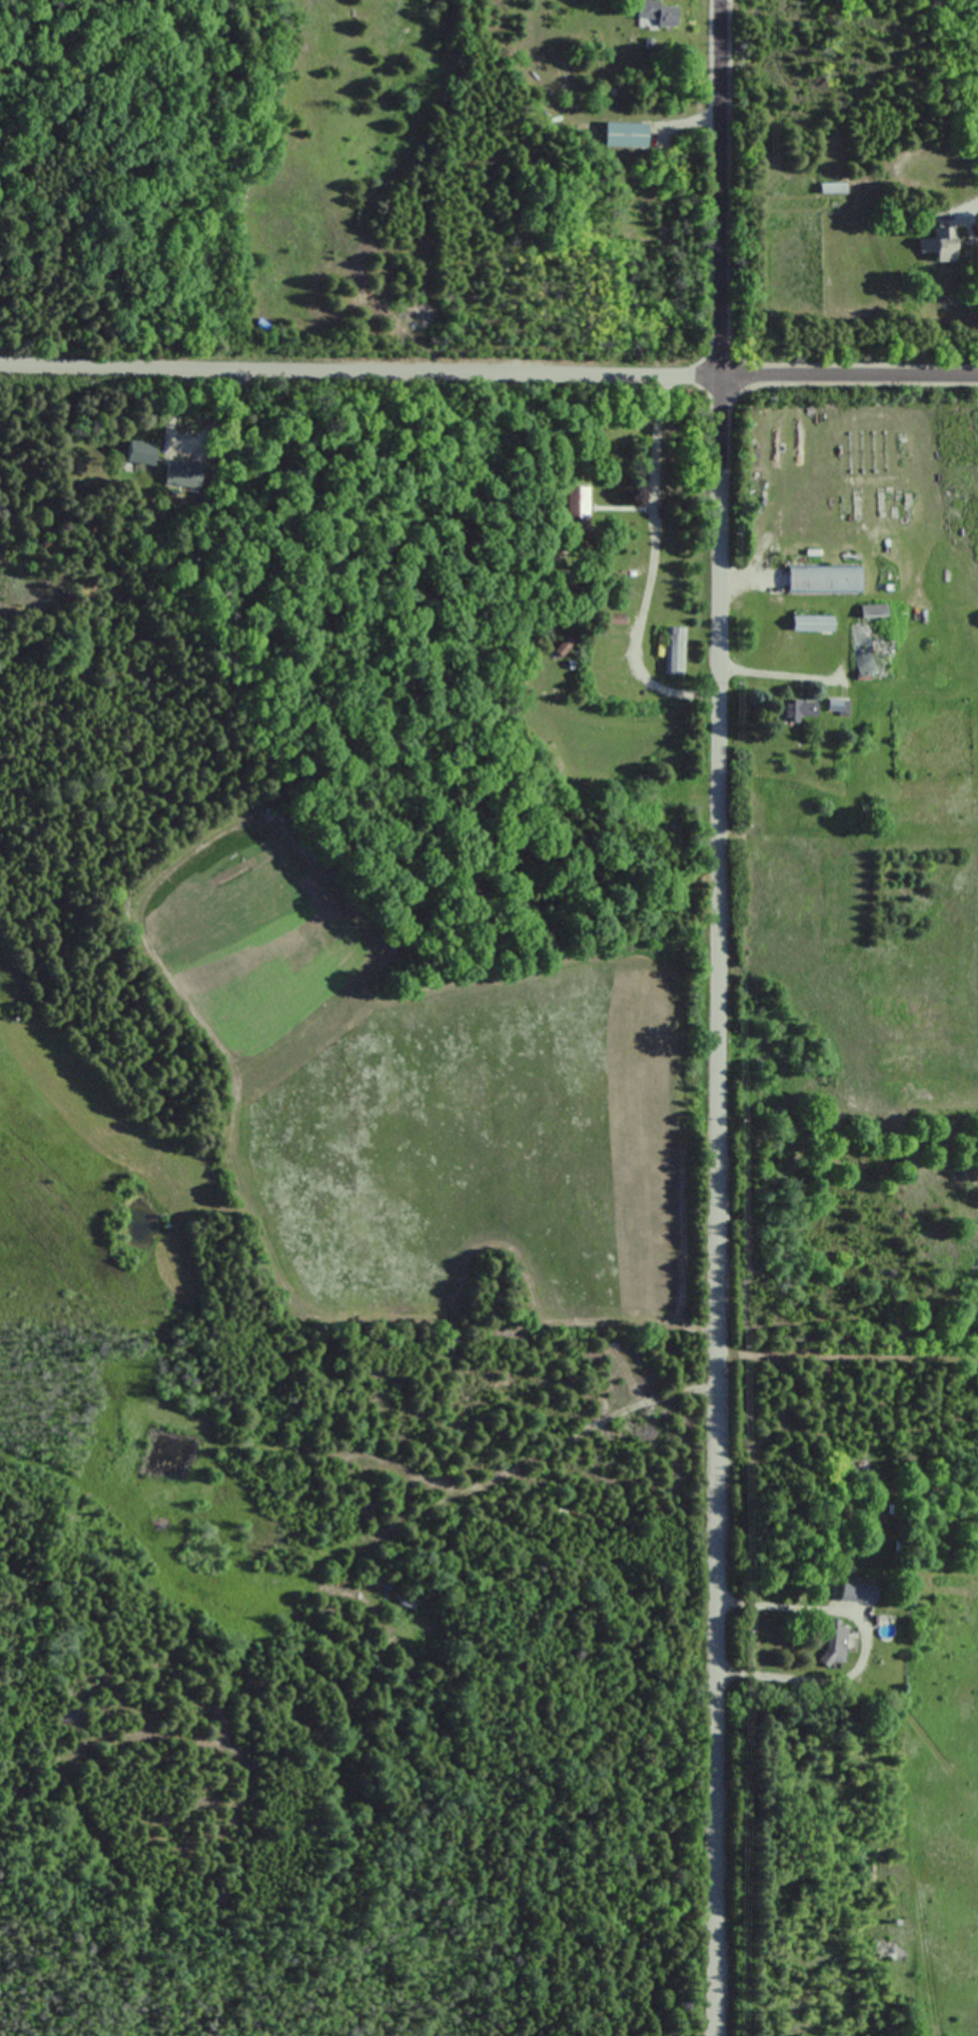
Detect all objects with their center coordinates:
building: (655, 14)
building: (623, 136)
building: (831, 188)
road: (967, 205)
building: (937, 246)
road: (848, 376)
road: (359, 380)
road: (169, 410)
building: (137, 453)
road: (650, 573)
building: (822, 579)
building: (808, 623)
building: (872, 640)
building: (672, 650)
road: (778, 673)
building: (835, 706)
building: (796, 709)
road: (718, 1017)
road: (546, 1451)
building: (853, 1592)
road: (863, 1641)
building: (832, 1642)

